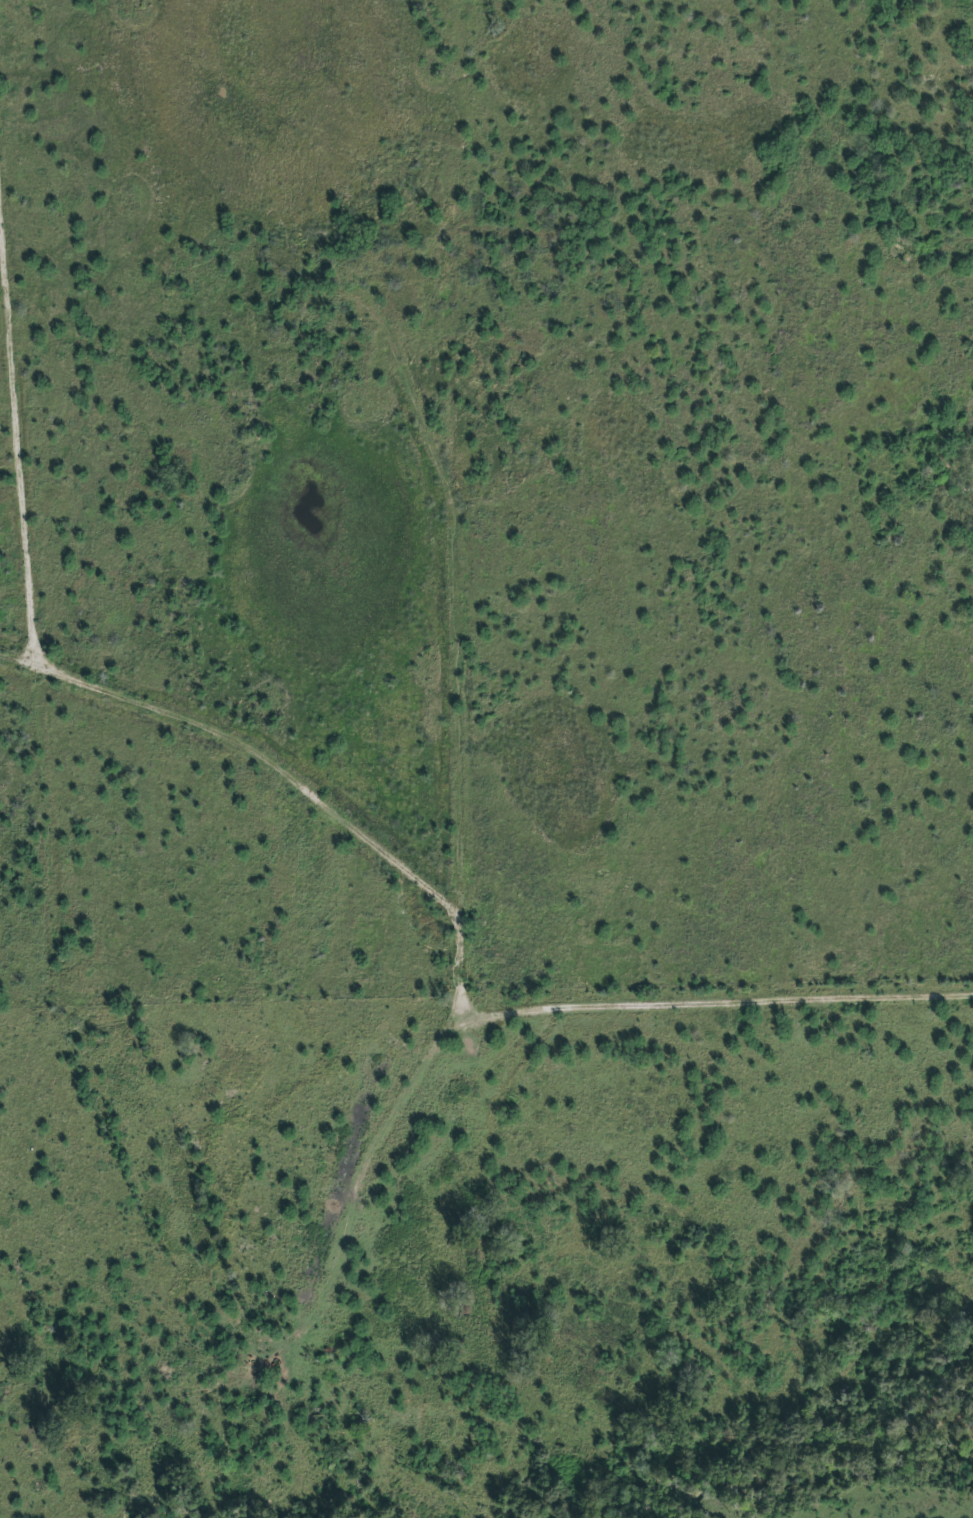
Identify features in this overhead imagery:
road: (950, 227)
road: (43, 692)
road: (451, 1040)
road: (629, 1418)

